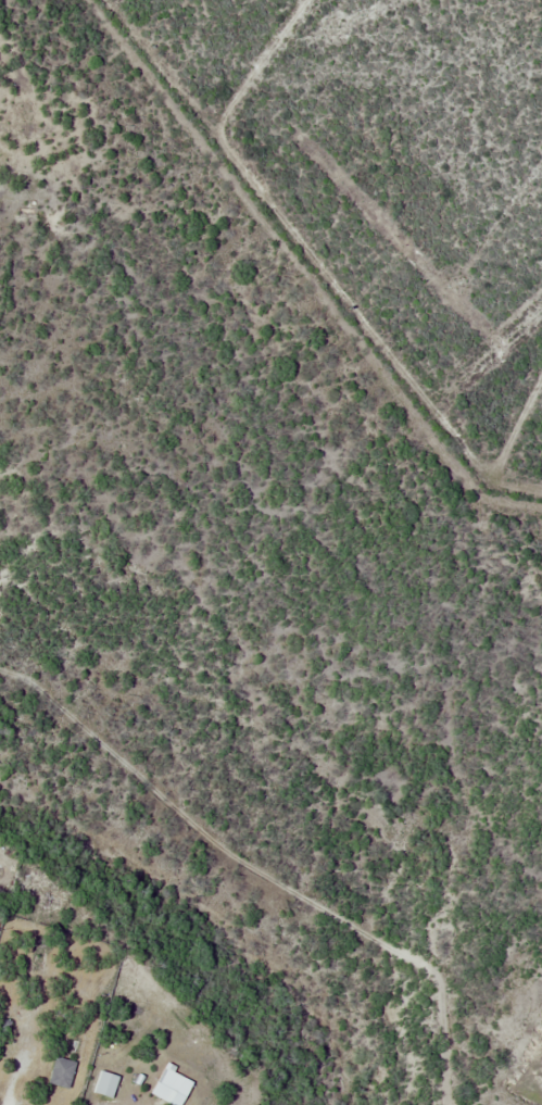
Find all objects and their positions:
building: (62, 1073)
building: (164, 1089)

